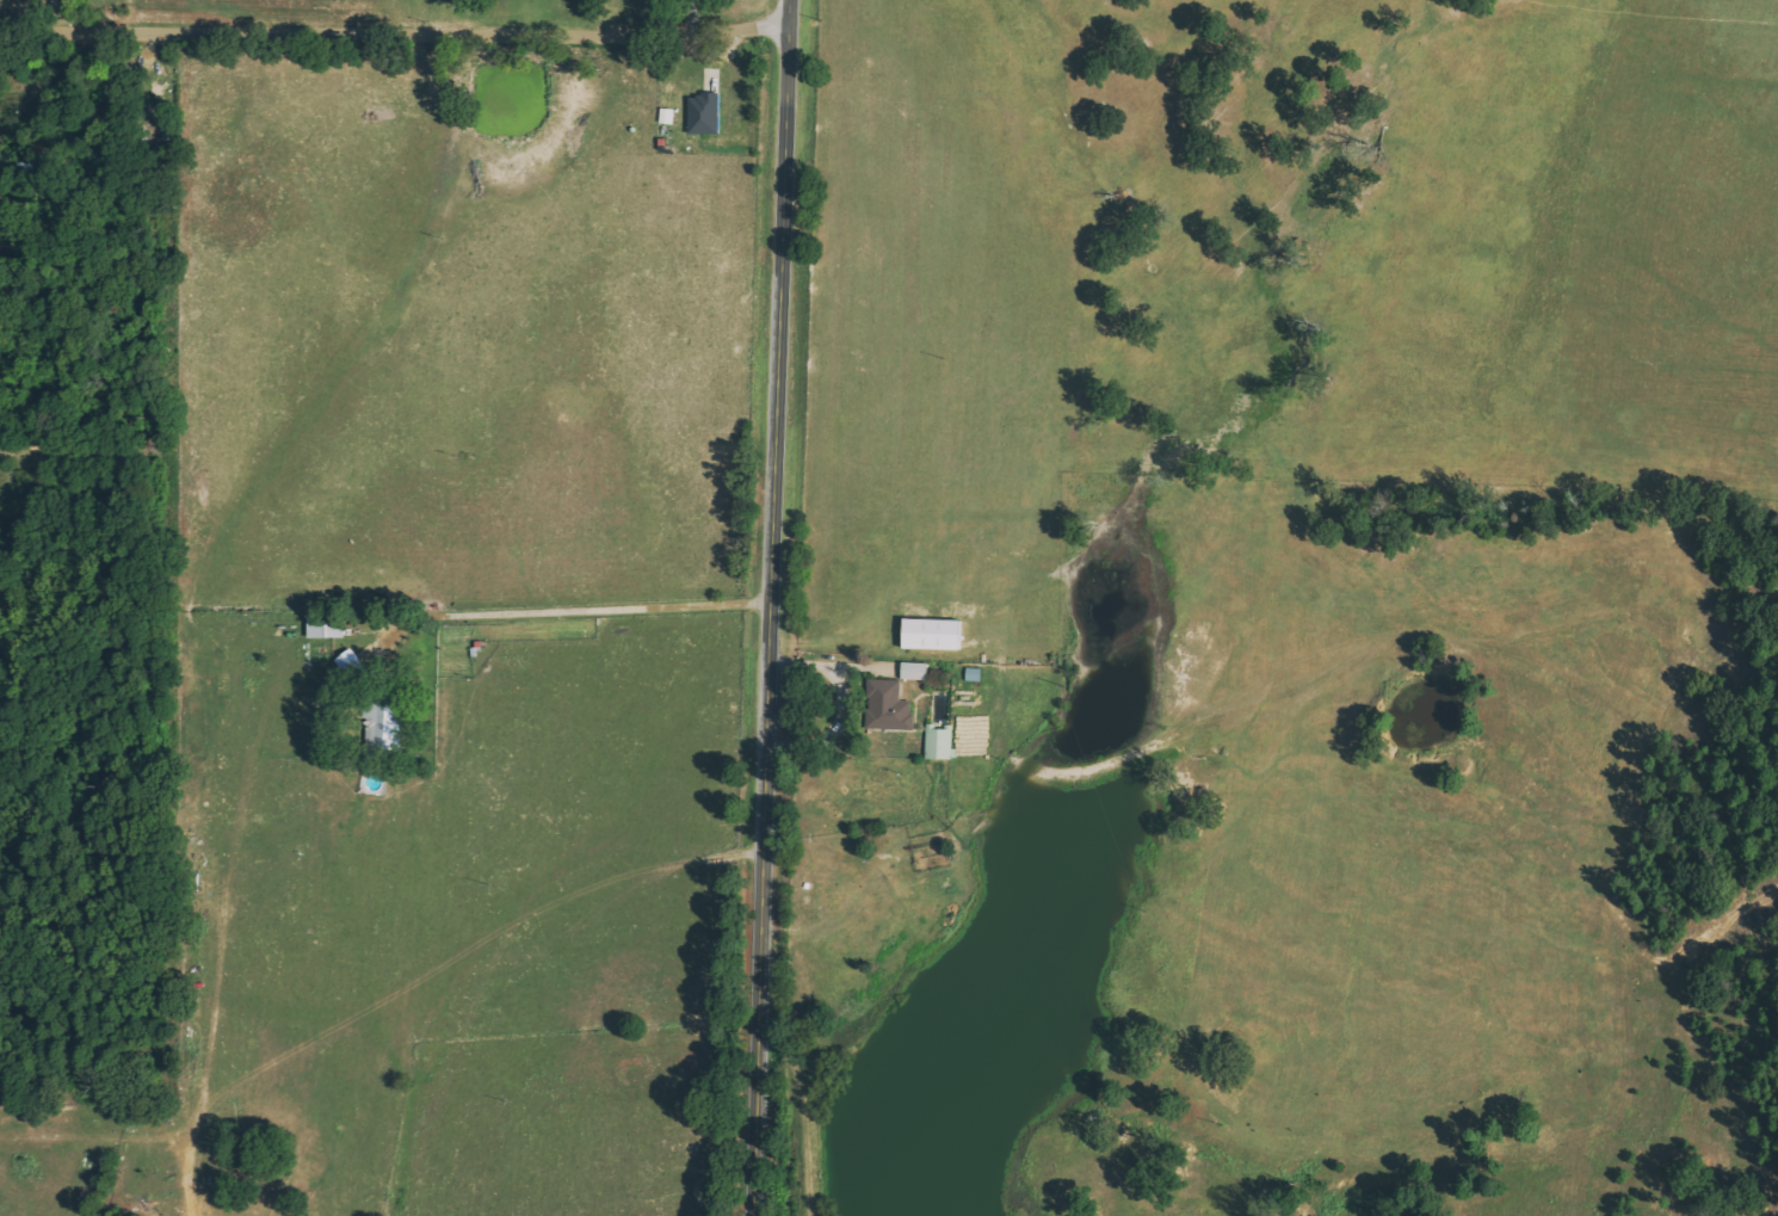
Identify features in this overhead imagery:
road: (396, 33)
building: (704, 113)
building: (667, 116)
road: (774, 607)
building: (326, 624)
building: (932, 634)
building: (914, 671)
building: (974, 674)
building: (890, 706)
building: (384, 722)
building: (939, 741)

